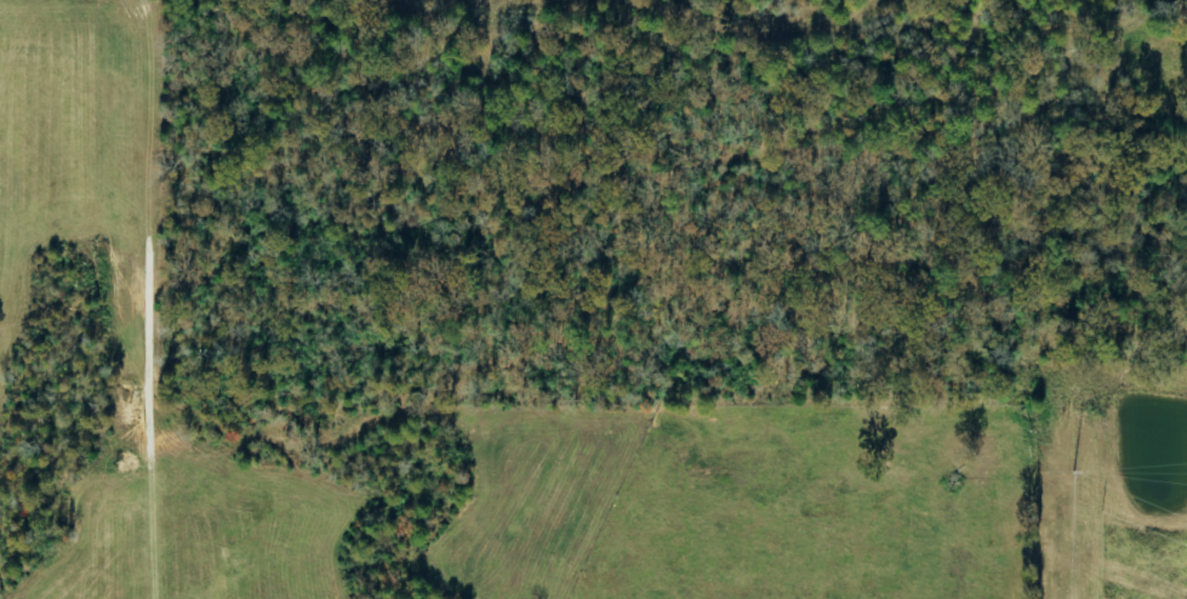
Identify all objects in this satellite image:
road: (1095, 45)
power tower: (1071, 473)
power tower: (1100, 513)

